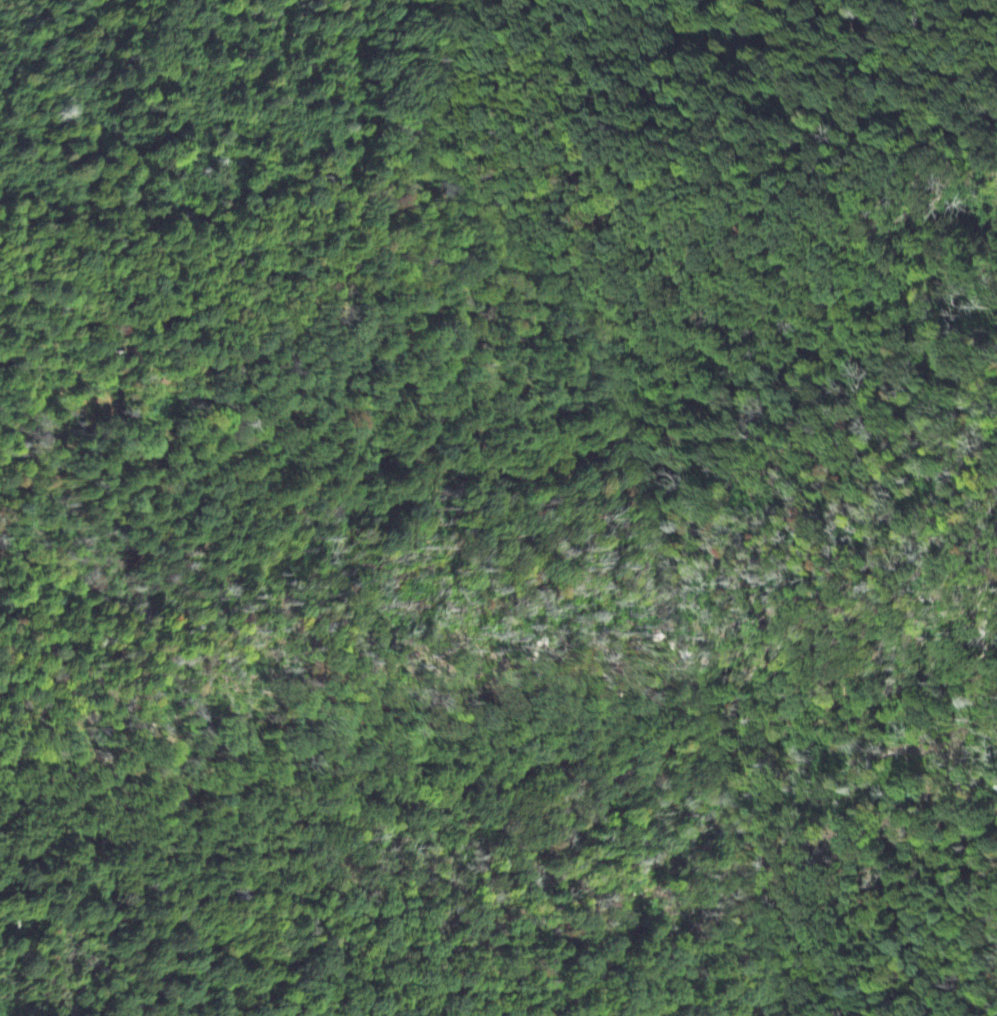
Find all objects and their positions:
road: (443, 972)

